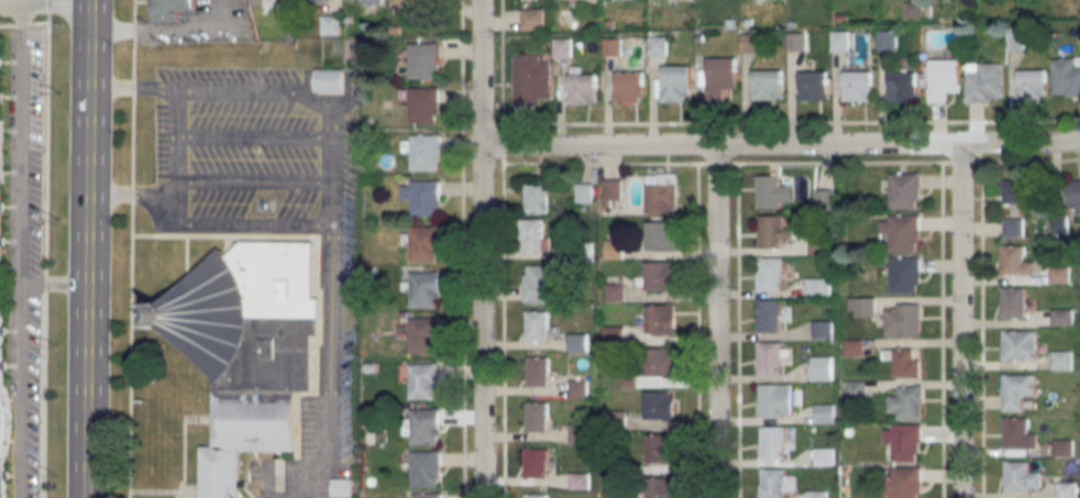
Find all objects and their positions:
building: (322, 0)
building: (364, 1)
road: (89, 2)
building: (271, 2)
building: (409, 3)
road: (44, 7)
building: (170, 9)
building: (913, 10)
road: (220, 11)
building: (532, 19)
building: (331, 24)
road: (24, 25)
road: (153, 27)
building: (1015, 38)
building: (838, 40)
building: (885, 40)
building: (795, 42)
building: (749, 43)
building: (611, 46)
building: (657, 46)
building: (562, 47)
building: (425, 60)
road: (482, 76)
building: (718, 76)
building: (1066, 77)
building: (531, 79)
building: (940, 79)
building: (330, 80)
building: (984, 81)
building: (673, 82)
building: (767, 85)
building: (813, 85)
building: (857, 85)
building: (1032, 85)
building: (583, 86)
building: (629, 86)
building: (903, 87)
road: (137, 89)
road: (253, 93)
building: (423, 104)
road: (178, 146)
building: (423, 152)
road: (781, 153)
building: (0, 164)
building: (904, 190)
building: (613, 191)
building: (769, 191)
building: (1017, 192)
building: (584, 193)
building: (661, 193)
road: (142, 196)
building: (1073, 196)
building: (422, 197)
building: (536, 198)
building: (823, 198)
building: (1061, 224)
road: (254, 225)
building: (1013, 225)
building: (772, 231)
building: (902, 232)
building: (535, 234)
building: (662, 234)
road: (45, 248)
building: (614, 248)
road: (86, 251)
road: (20, 252)
building: (1015, 262)
building: (770, 274)
building: (1058, 274)
building: (905, 275)
building: (660, 276)
building: (540, 283)
road: (53, 285)
building: (817, 287)
building: (425, 289)
road: (334, 290)
building: (615, 292)
building: (1013, 302)
building: (862, 307)
building: (769, 316)
building: (1062, 318)
building: (660, 319)
building: (903, 320)
road: (959, 324)
road: (483, 325)
building: (536, 325)
road: (713, 325)
building: (823, 330)
building: (614, 334)
building: (423, 335)
building: (577, 342)
building: (1020, 345)
building: (855, 347)
building: (250, 348)
building: (771, 357)
building: (1062, 361)
building: (660, 362)
building: (904, 362)
building: (822, 368)
building: (538, 370)
building: (425, 380)
building: (577, 388)
building: (856, 390)
building: (1017, 390)
building: (775, 399)
building: (906, 403)
building: (660, 405)
building: (2, 408)
building: (825, 413)
building: (537, 418)
building: (426, 425)
building: (578, 433)
building: (1020, 433)
building: (904, 441)
building: (773, 442)
building: (1064, 447)
building: (661, 449)
building: (824, 456)
building: (536, 462)
building: (426, 468)
building: (1022, 477)
building: (580, 480)
building: (776, 482)
building: (903, 482)
building: (342, 487)
building: (661, 487)
road: (300, 488)
building: (1067, 490)
road: (321, 493)
building: (818, 494)
building: (427, 495)
building: (536, 496)

